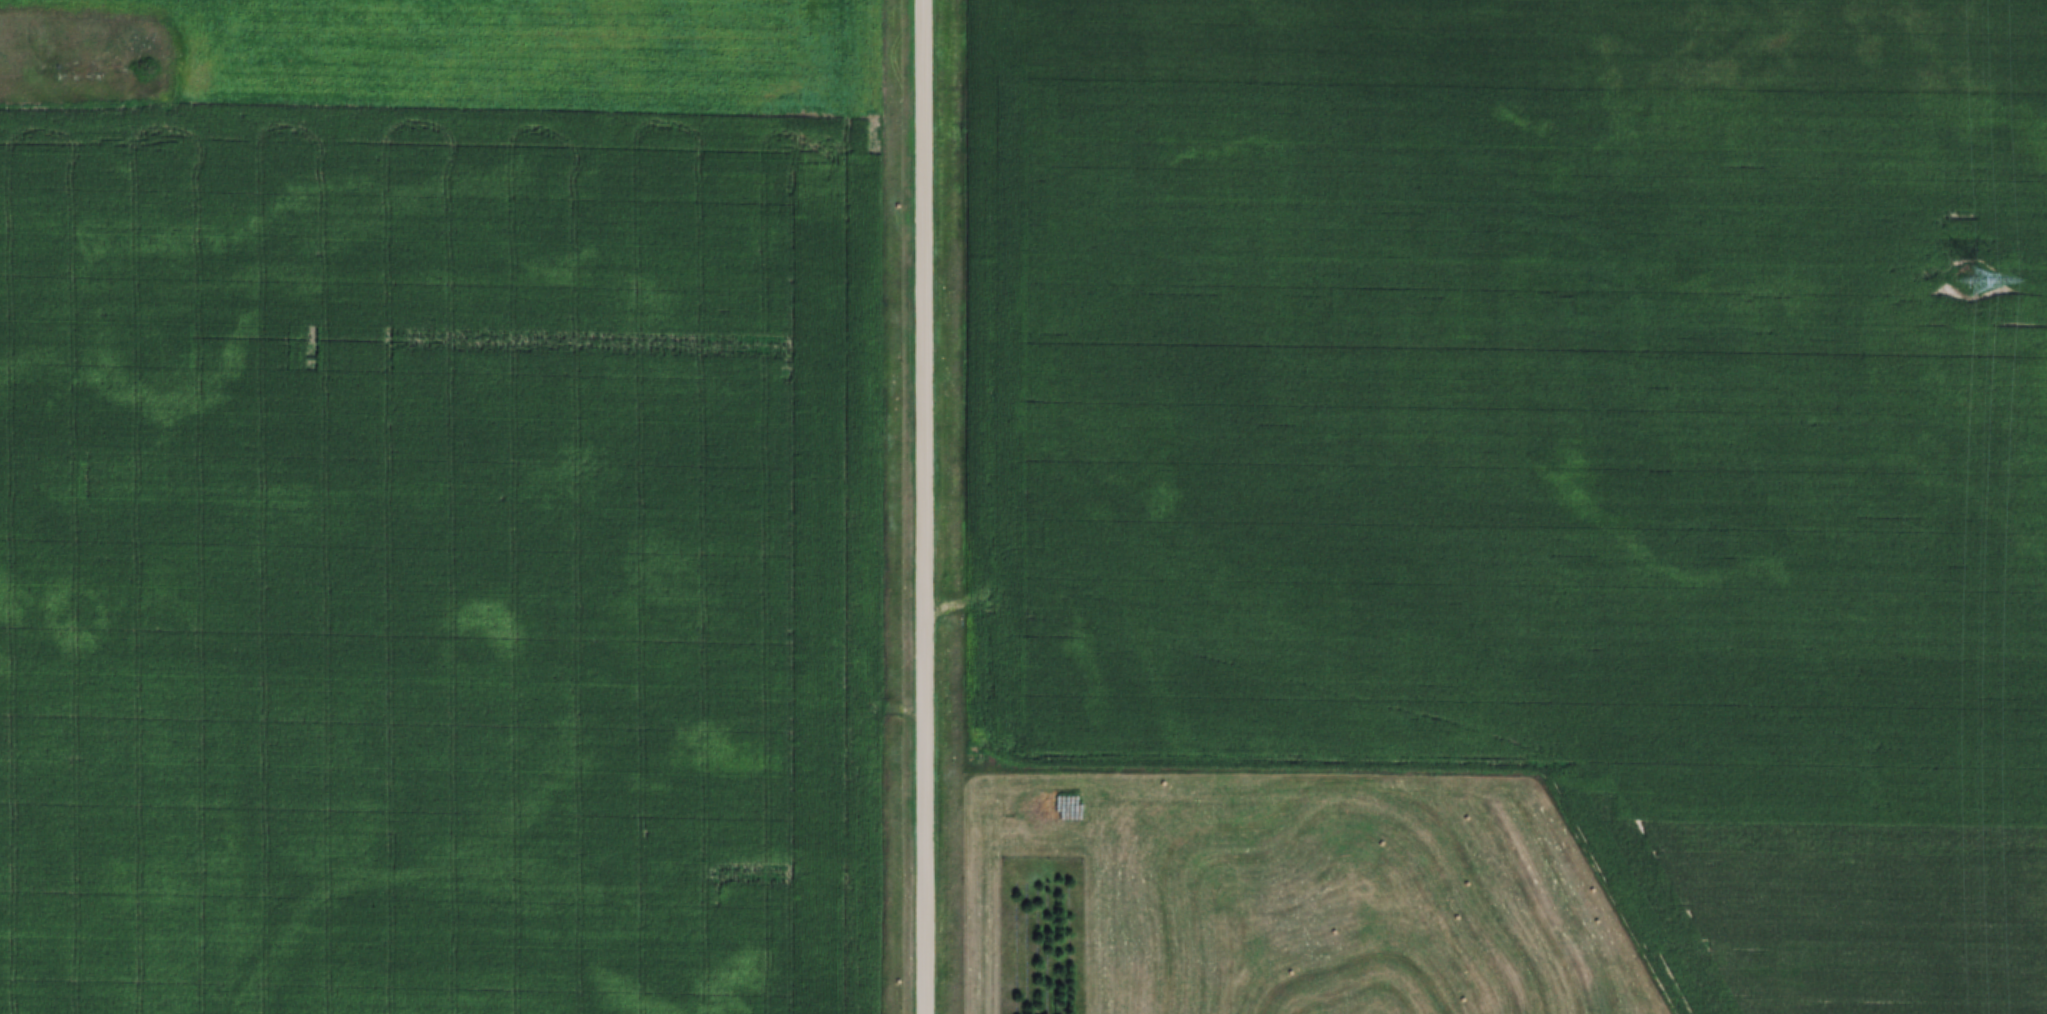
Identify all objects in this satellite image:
power tower: (1972, 276)
road: (920, 507)

